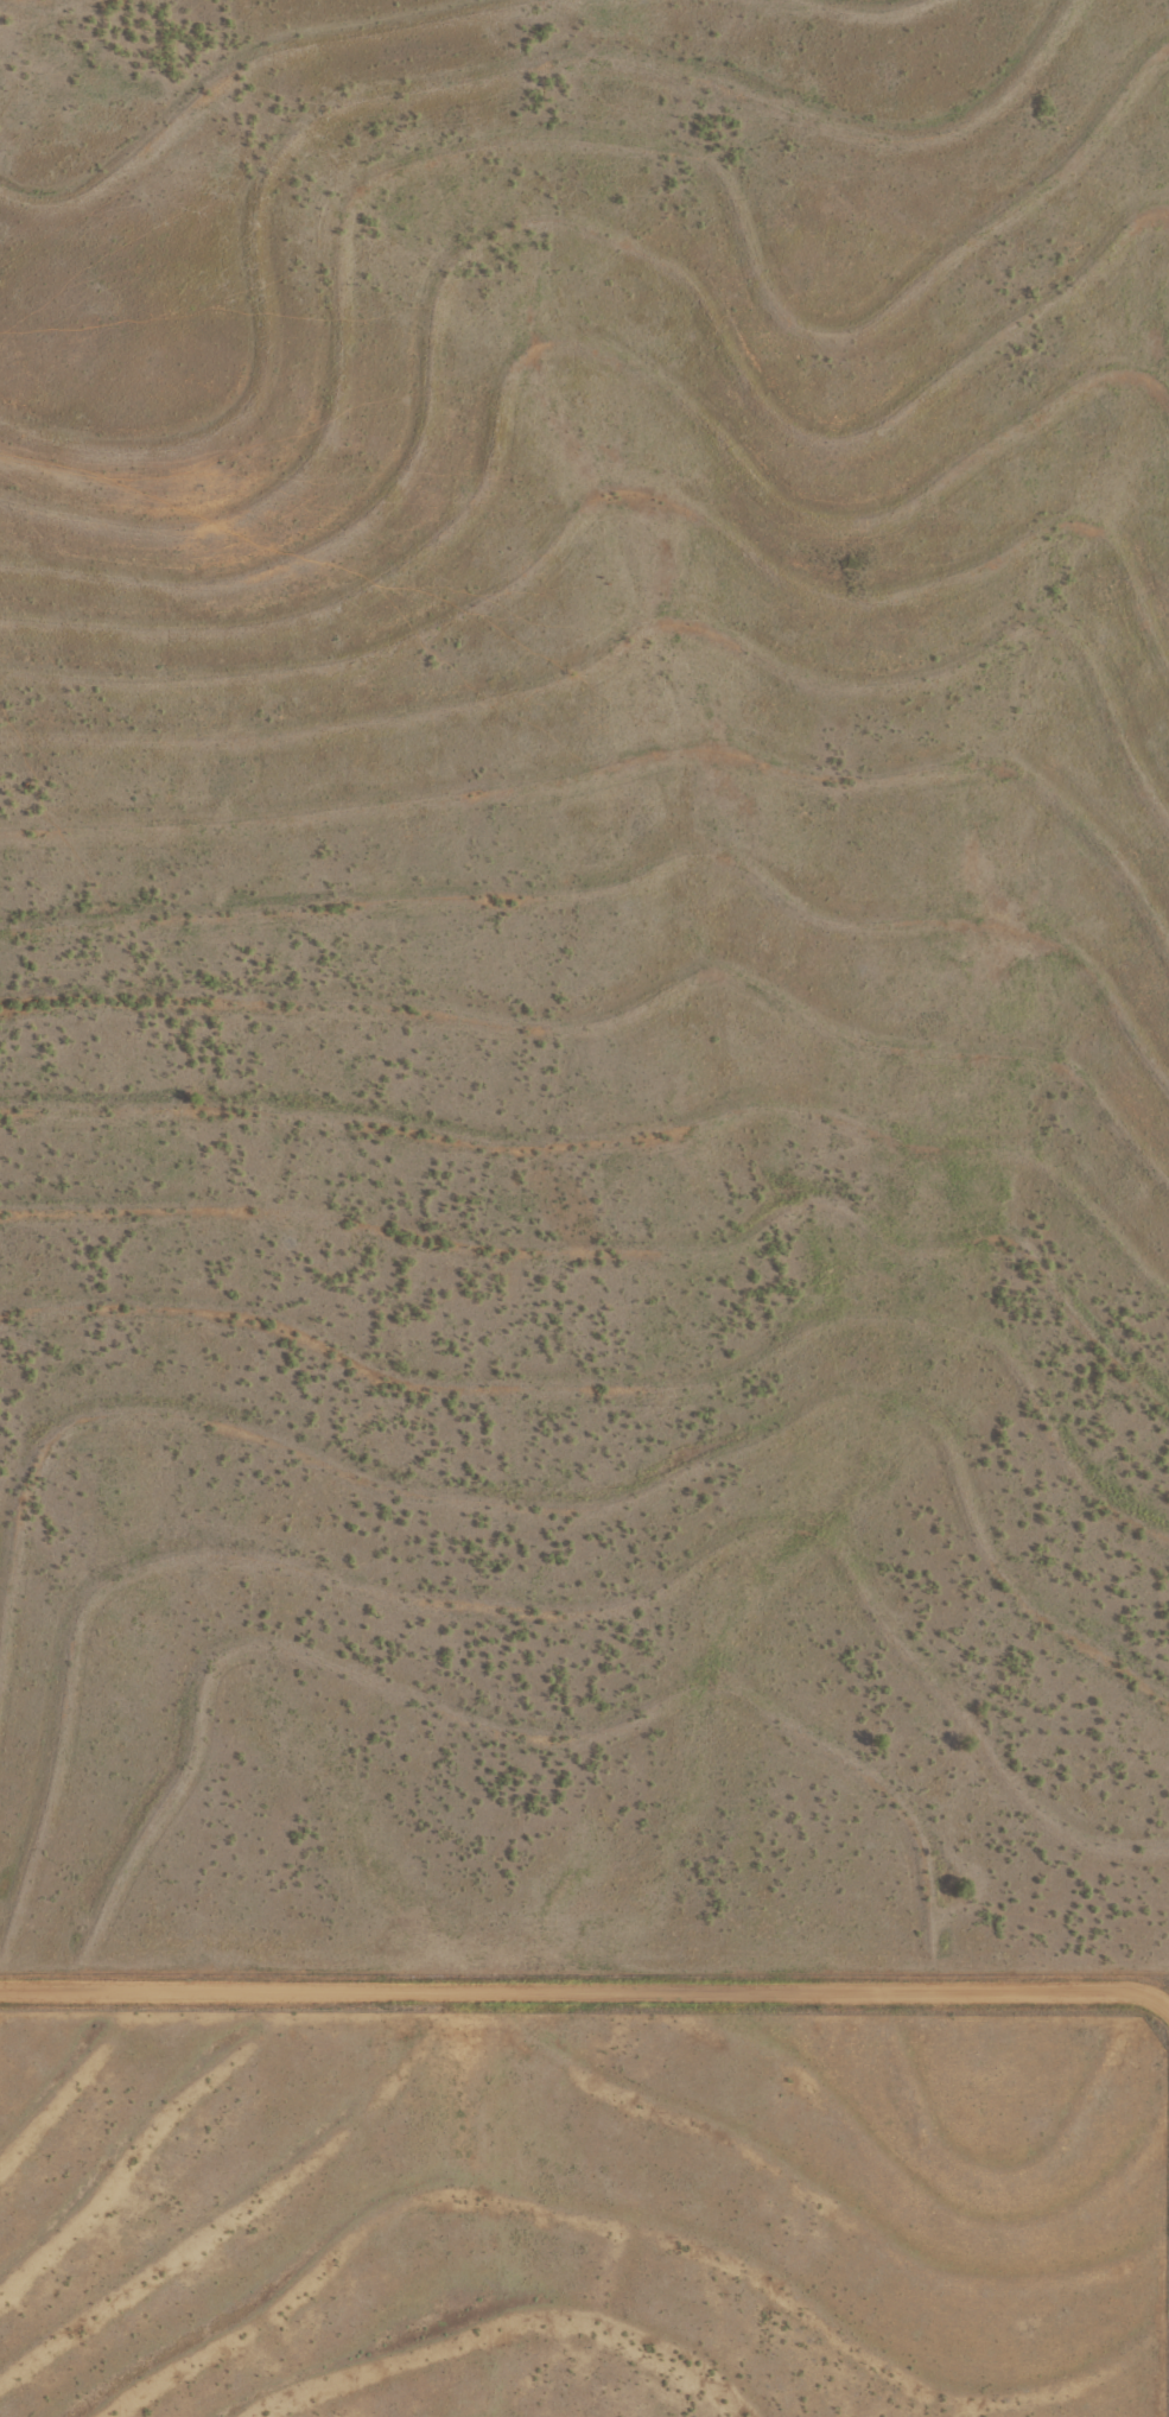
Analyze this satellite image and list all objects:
road: (586, 1987)

